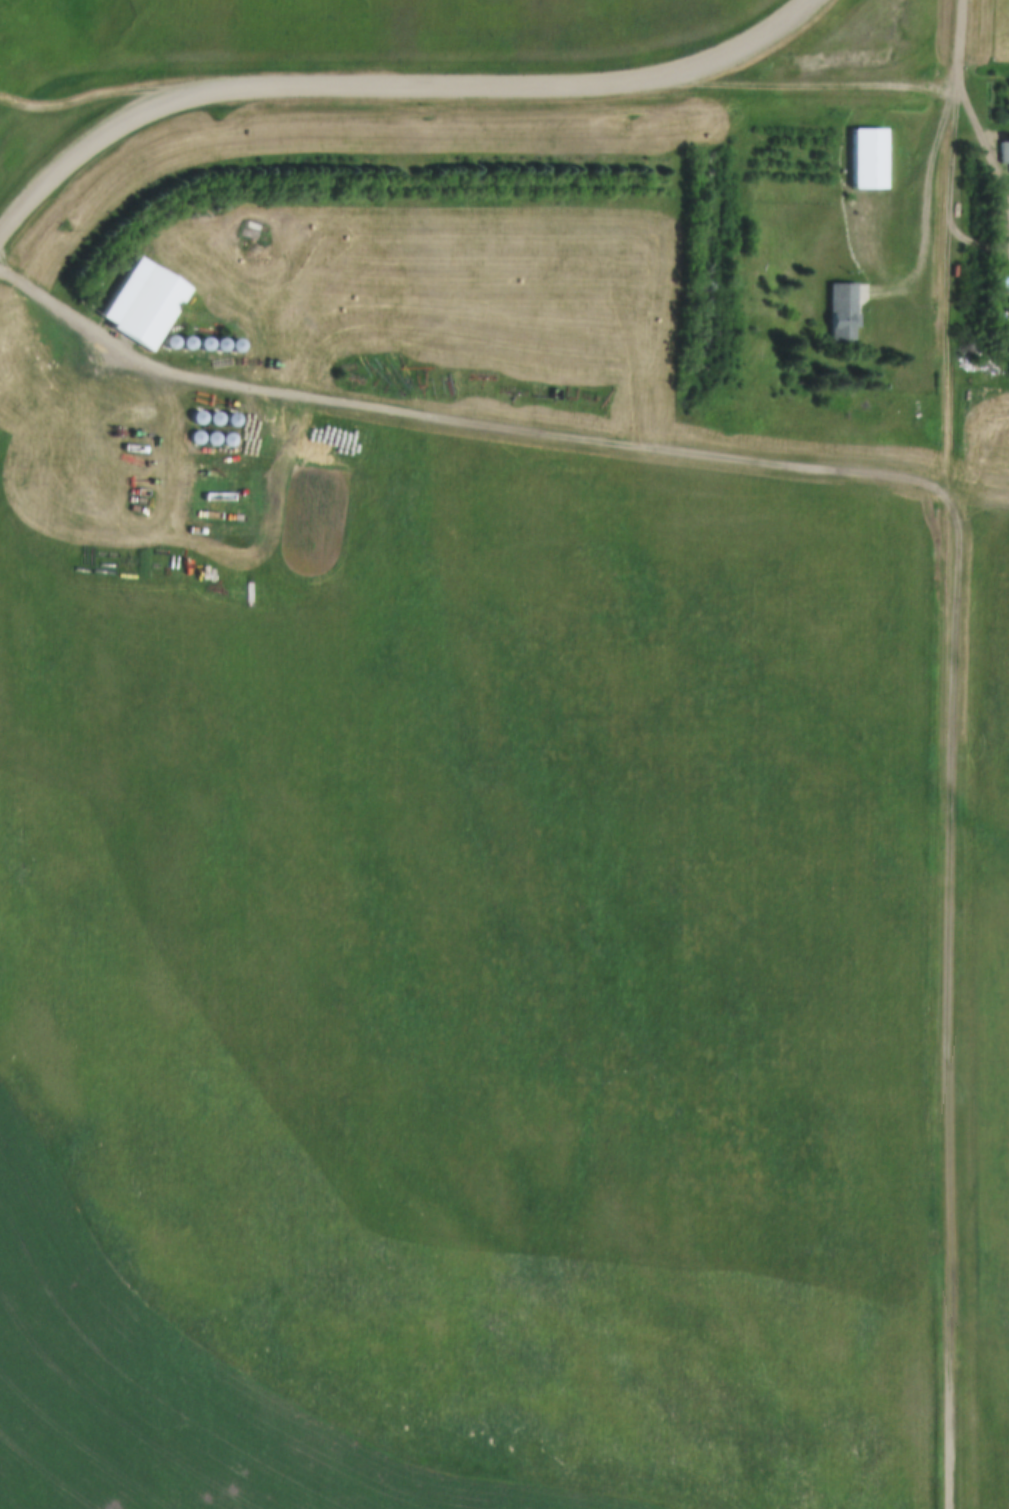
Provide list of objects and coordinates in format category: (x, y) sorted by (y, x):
road: (962, 44)
road: (800, 85)
road: (393, 86)
road: (984, 139)
building: (873, 157)
road: (955, 186)
road: (930, 208)
building: (149, 303)
building: (847, 310)
road: (107, 340)
building: (175, 341)
silo: (175, 341)
building: (191, 342)
silo: (191, 342)
building: (209, 343)
silo: (209, 343)
building: (224, 344)
silo: (224, 344)
building: (240, 345)
silo: (240, 345)
building: (202, 417)
silo: (202, 417)
building: (219, 418)
silo: (219, 418)
building: (236, 419)
silo: (236, 419)
building: (201, 437)
silo: (201, 437)
building: (217, 438)
silo: (217, 438)
building: (233, 439)
silo: (233, 439)
road: (970, 630)

